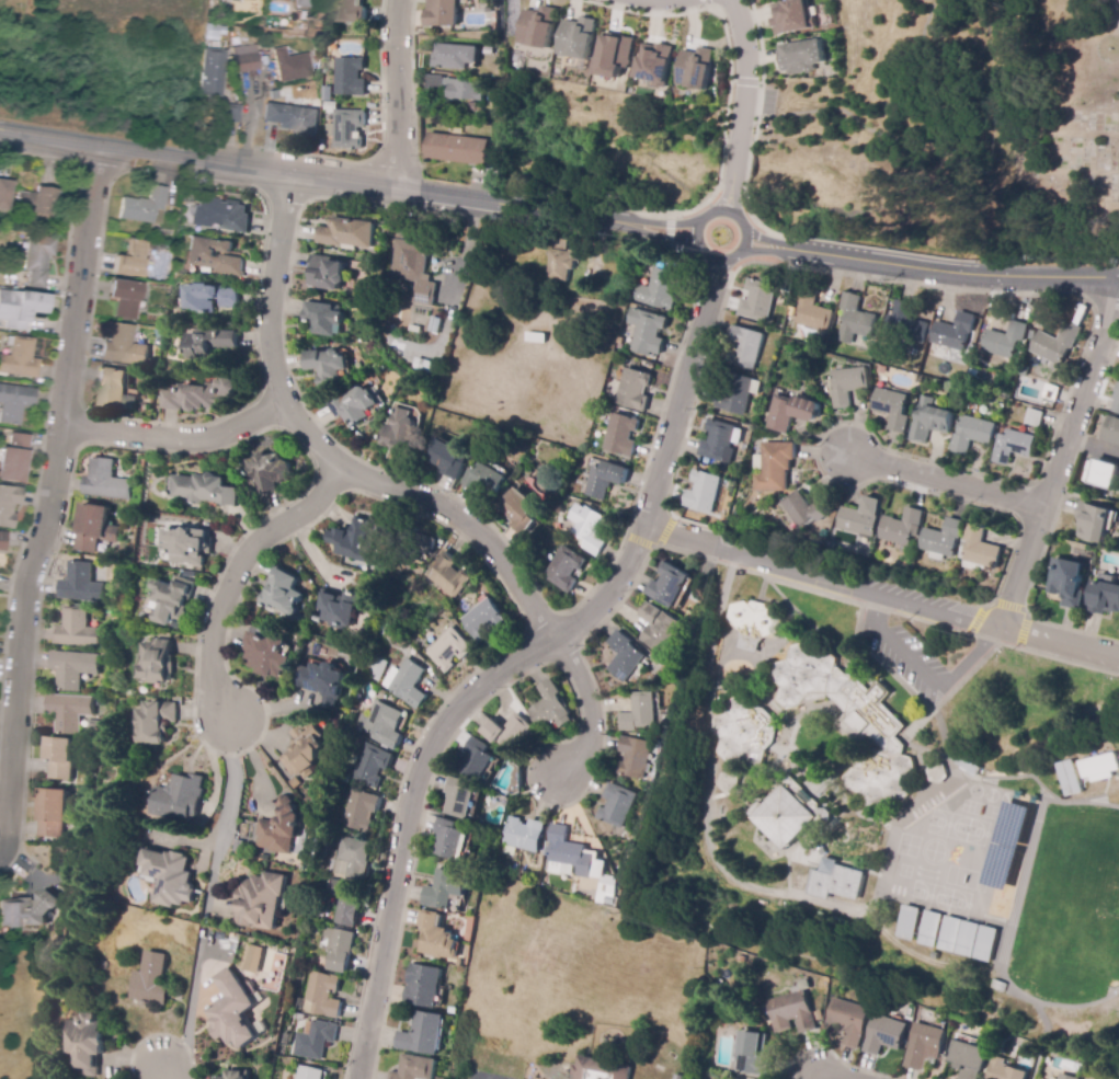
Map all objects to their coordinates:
building: (300, 3)
building: (489, 10)
road: (1117, 10)
building: (351, 11)
building: (443, 13)
building: (790, 16)
building: (494, 18)
building: (539, 26)
building: (208, 32)
building: (579, 37)
building: (488, 50)
building: (615, 54)
building: (802, 56)
building: (456, 57)
building: (246, 59)
building: (655, 62)
building: (292, 66)
building: (696, 68)
building: (213, 72)
building: (350, 78)
road: (744, 81)
building: (455, 88)
building: (281, 93)
building: (327, 93)
road: (398, 93)
building: (330, 105)
road: (742, 105)
building: (478, 107)
road: (250, 113)
building: (231, 114)
building: (294, 118)
building: (346, 129)
park: (1070, 131)
building: (456, 149)
road: (721, 162)
road: (346, 180)
building: (5, 194)
building: (37, 204)
building: (145, 207)
building: (221, 215)
road: (743, 229)
road: (666, 231)
building: (346, 233)
building: (159, 246)
building: (214, 256)
building: (38, 260)
building: (132, 260)
building: (561, 265)
road: (930, 268)
building: (414, 269)
road: (713, 271)
building: (328, 273)
building: (362, 277)
building: (660, 290)
road: (1001, 292)
road: (455, 294)
building: (210, 298)
building: (126, 299)
building: (757, 301)
building: (543, 307)
building: (21, 308)
building: (812, 311)
building: (324, 318)
building: (855, 320)
building: (906, 324)
building: (954, 332)
building: (647, 333)
building: (535, 337)
building: (618, 341)
building: (1004, 341)
building: (209, 342)
building: (160, 343)
building: (1055, 344)
building: (124, 346)
building: (744, 348)
building: (19, 357)
building: (329, 366)
building: (887, 369)
road: (667, 381)
building: (848, 386)
building: (113, 388)
building: (633, 390)
building: (1046, 391)
road: (680, 393)
building: (738, 394)
building: (202, 395)
building: (1116, 401)
building: (15, 403)
building: (355, 405)
building: (892, 406)
building: (790, 413)
building: (1034, 417)
building: (929, 421)
building: (1111, 431)
building: (400, 434)
building: (620, 434)
building: (972, 434)
road: (176, 439)
building: (718, 443)
building: (1014, 445)
road: (1063, 455)
road: (326, 458)
building: (14, 459)
building: (448, 459)
building: (775, 468)
building: (267, 472)
building: (1103, 474)
road: (947, 479)
building: (487, 480)
building: (105, 481)
building: (604, 481)
building: (205, 490)
building: (704, 492)
road: (56, 500)
building: (9, 505)
building: (519, 510)
building: (801, 513)
building: (860, 519)
building: (1095, 523)
building: (902, 527)
building: (93, 528)
building: (590, 531)
building: (354, 540)
building: (943, 540)
building: (2, 541)
building: (418, 544)
building: (187, 546)
building: (447, 546)
road: (655, 547)
building: (979, 550)
building: (564, 570)
road: (236, 574)
building: (446, 576)
road: (822, 577)
building: (1067, 582)
building: (79, 584)
building: (670, 586)
building: (283, 592)
building: (1105, 598)
building: (172, 599)
building: (340, 608)
road: (1007, 608)
road: (887, 610)
building: (483, 620)
building: (754, 624)
building: (73, 629)
building: (662, 630)
road: (1060, 640)
building: (446, 650)
building: (264, 653)
building: (625, 656)
building: (157, 662)
building: (768, 665)
building: (71, 668)
building: (379, 668)
building: (664, 673)
road: (925, 673)
building: (322, 681)
building: (406, 684)
building: (381, 695)
building: (551, 708)
road: (589, 710)
building: (67, 712)
building: (639, 713)
building: (156, 722)
building: (849, 722)
building: (381, 724)
building: (509, 732)
building: (743, 733)
building: (355, 739)
building: (305, 751)
building: (58, 757)
building: (633, 758)
road: (427, 759)
building: (477, 760)
building: (967, 764)
building: (368, 766)
building: (1100, 768)
building: (937, 772)
road: (966, 772)
building: (1071, 777)
building: (339, 779)
building: (295, 782)
building: (728, 782)
building: (459, 797)
building: (181, 799)
building: (616, 805)
building: (354, 812)
building: (53, 813)
building: (787, 814)
road: (232, 815)
building: (279, 828)
building: (524, 835)
building: (450, 839)
park: (1053, 842)
building: (240, 847)
road: (1, 853)
building: (569, 854)
building: (347, 857)
building: (523, 876)
building: (170, 877)
building: (837, 881)
building: (445, 888)
building: (594, 896)
road: (804, 898)
building: (261, 900)
building: (344, 902)
building: (27, 910)
building: (910, 922)
building: (932, 929)
building: (950, 933)
building: (436, 938)
building: (969, 938)
building: (986, 944)
building: (338, 950)
building: (250, 959)
building: (750, 962)
building: (458, 963)
building: (152, 979)
building: (422, 986)
building: (321, 996)
building: (232, 1010)
building: (790, 1013)
building: (847, 1021)
building: (422, 1034)
building: (883, 1035)
building: (313, 1040)
building: (88, 1044)
building: (924, 1046)
building: (751, 1055)
building: (970, 1058)
building: (415, 1068)
road: (161, 1069)
building: (598, 1069)
building: (1005, 1070)
building: (310, 1074)
road: (821, 1075)
building: (235, 1076)
building: (678, 1077)
building: (1065, 1077)
road: (484, 1078)

